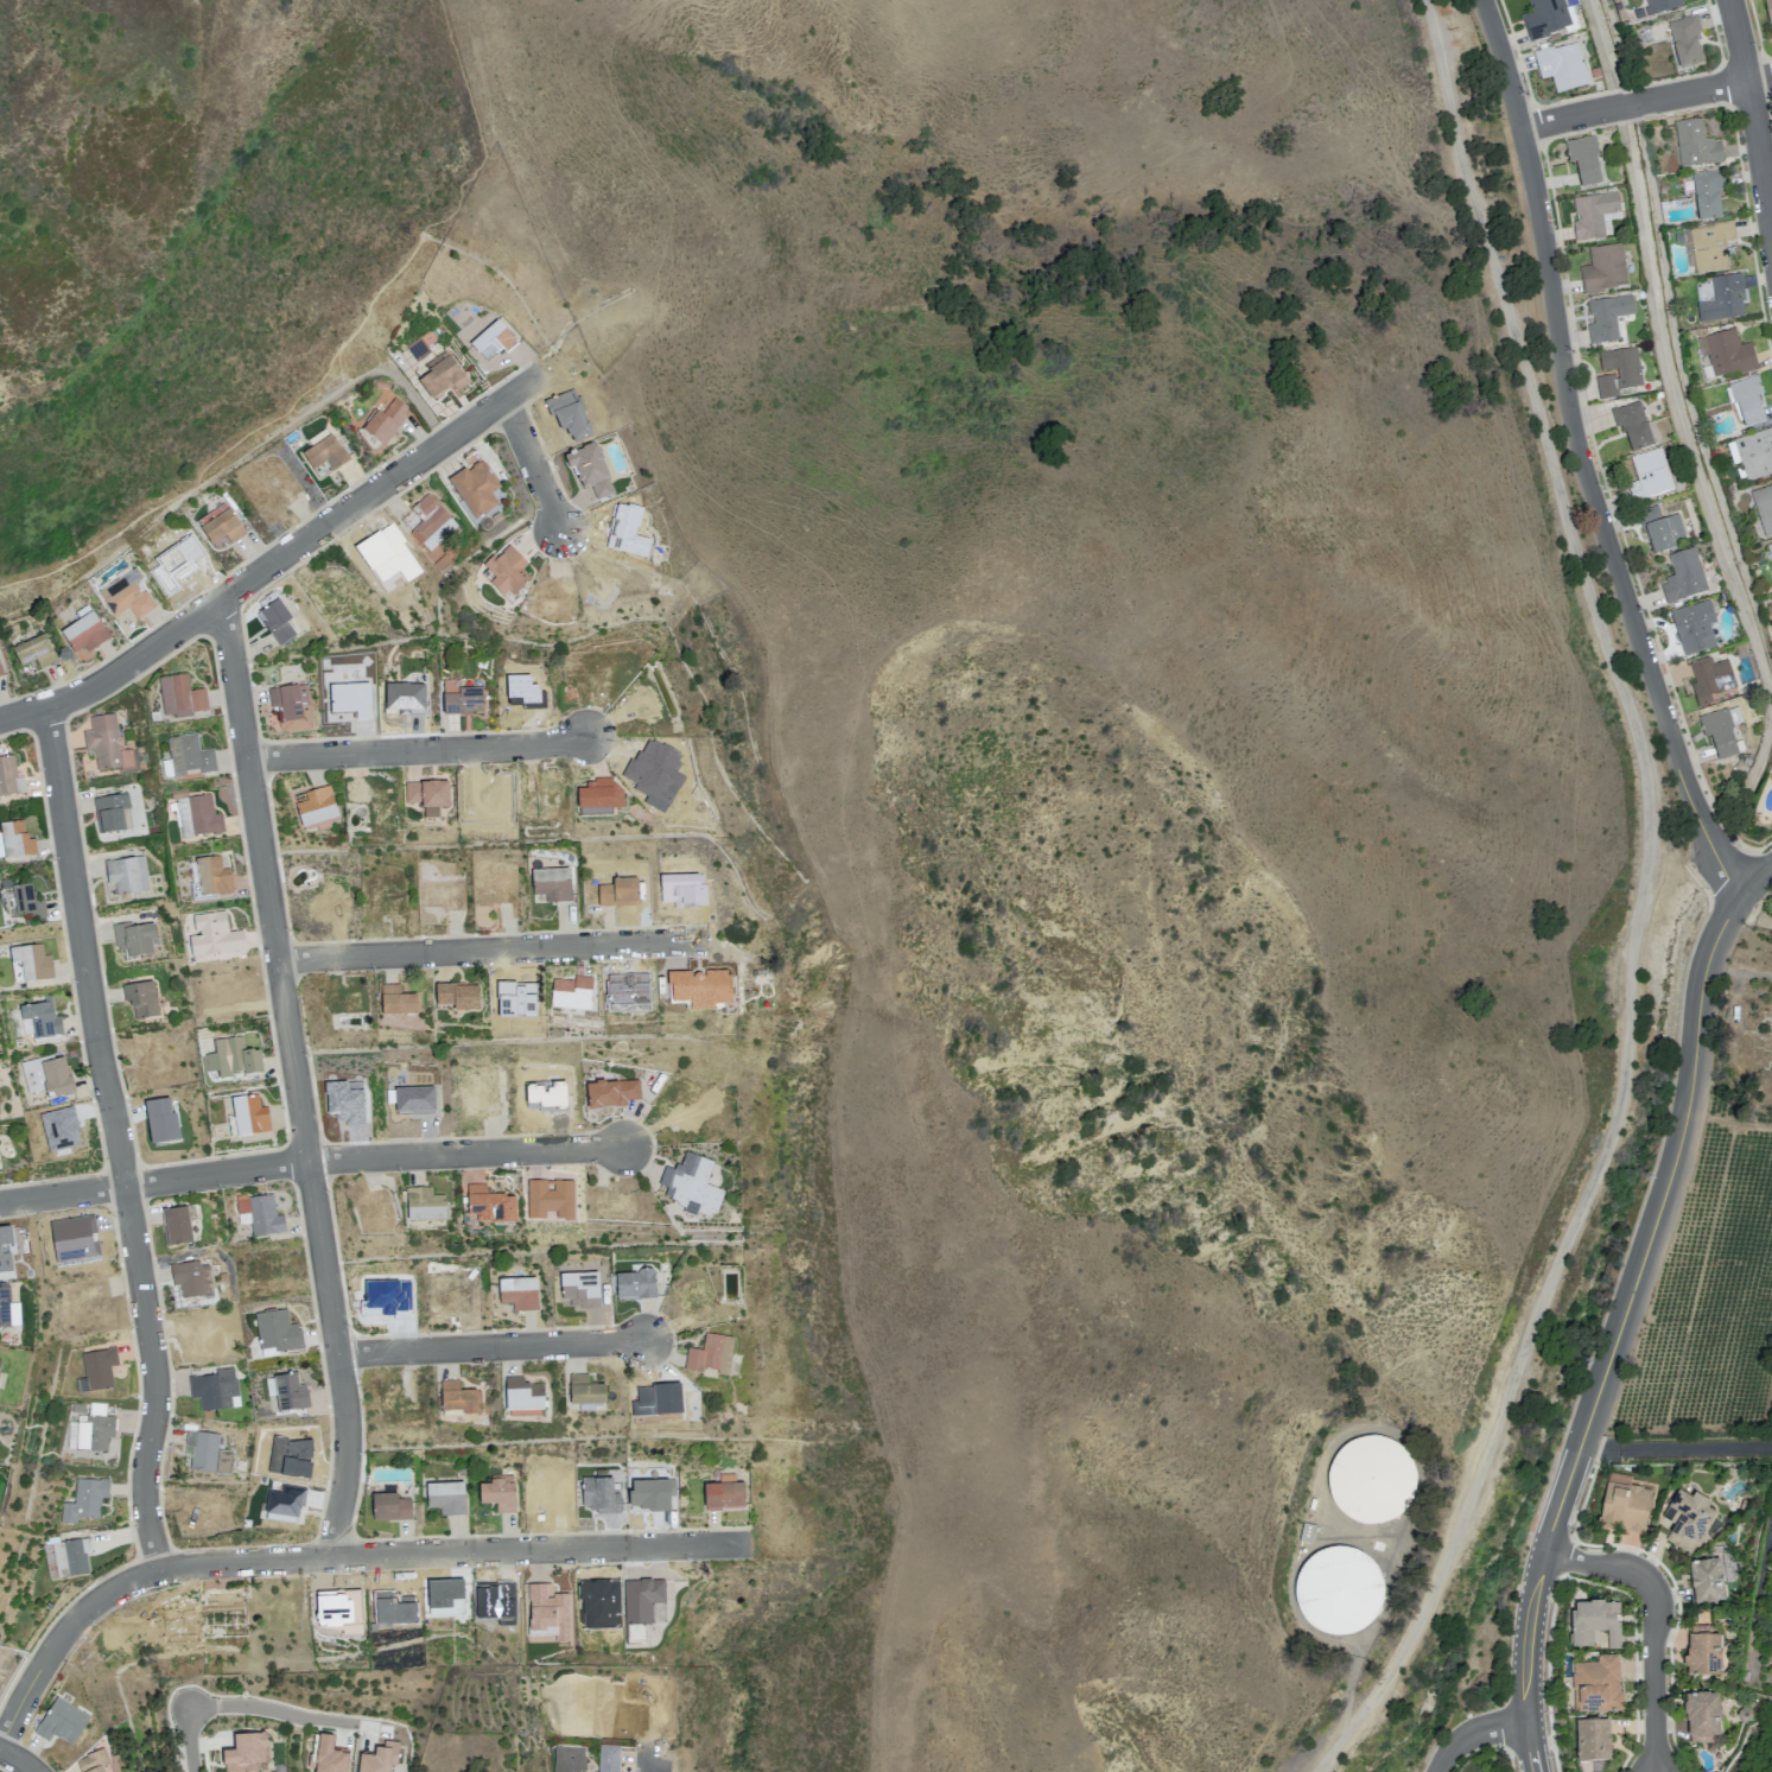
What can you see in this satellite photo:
building: (1662, 7)
building: (1768, 11)
building: (1548, 18)
building: (1684, 43)
building: (1561, 65)
road: (1759, 77)
road: (1690, 91)
road: (1628, 103)
road: (1570, 116)
road: (1753, 118)
building: (1695, 147)
building: (1583, 159)
building: (1707, 197)
building: (1594, 215)
building: (1707, 249)
park: (169, 266)
building: (1602, 268)
building: (1722, 303)
building: (1607, 317)
building: (494, 341)
building: (420, 344)
road: (336, 354)
building: (1727, 356)
building: (1618, 370)
building: (440, 375)
building: (1747, 405)
building: (382, 424)
building: (1634, 425)
building: (1755, 455)
building: (324, 456)
road: (1579, 459)
road: (230, 465)
road: (533, 465)
building: (1651, 471)
building: (475, 487)
building: (1763, 510)
building: (427, 521)
building: (220, 526)
building: (1659, 528)
building: (1770, 552)
road: (277, 560)
building: (507, 572)
building: (1684, 578)
building: (126, 596)
building: (277, 621)
building: (1694, 628)
building: (84, 630)
building: (33, 652)
building: (0, 672)
building: (1706, 679)
building: (179, 696)
building: (462, 697)
building: (291, 707)
building: (1722, 736)
building: (107, 743)
road: (418, 751)
building: (189, 755)
building: (9, 776)
building: (598, 798)
building: (316, 809)
building: (112, 813)
building: (193, 813)
building: (14, 840)
building: (127, 874)
building: (209, 877)
building: (551, 883)
road: (1758, 883)
building: (617, 891)
building: (26, 901)
road: (1647, 904)
building: (133, 939)
road: (491, 951)
building: (28, 964)
building: (457, 996)
building: (140, 998)
building: (396, 1001)
building: (40, 1020)
building: (233, 1059)
building: (56, 1076)
road: (296, 1079)
building: (249, 1113)
road: (118, 1139)
road: (310, 1160)
road: (1671, 1174)
building: (423, 1203)
building: (489, 1203)
building: (258, 1213)
building: (176, 1226)
building: (190, 1278)
building: (635, 1283)
building: (517, 1293)
building: (7, 1308)
road: (494, 1349)
building: (710, 1353)
building: (96, 1370)
building: (1, 1379)
building: (214, 1390)
building: (584, 1390)
building: (522, 1393)
building: (456, 1398)
building: (90, 1429)
road: (1673, 1449)
building: (207, 1452)
building: (1370, 1479)
building: (497, 1492)
building: (724, 1494)
building: (445, 1497)
building: (84, 1500)
road: (1558, 1501)
building: (1624, 1504)
building: (389, 1506)
building: (1685, 1519)
building: (65, 1557)
road: (330, 1557)
building: (1706, 1580)
building: (1336, 1589)
road: (1659, 1618)
building: (1594, 1621)
building: (1702, 1653)
road: (1525, 1662)
building: (1596, 1684)
road: (272, 1710)
building: (1702, 1715)
building: (61, 1721)
road: (1478, 1734)
building: (1592, 1739)
road: (186, 1740)
building: (246, 1751)
building: (328, 1757)
building: (567, 1758)
building: (608, 1758)
road: (650, 1758)
road: (15, 1760)
building: (91, 1761)

